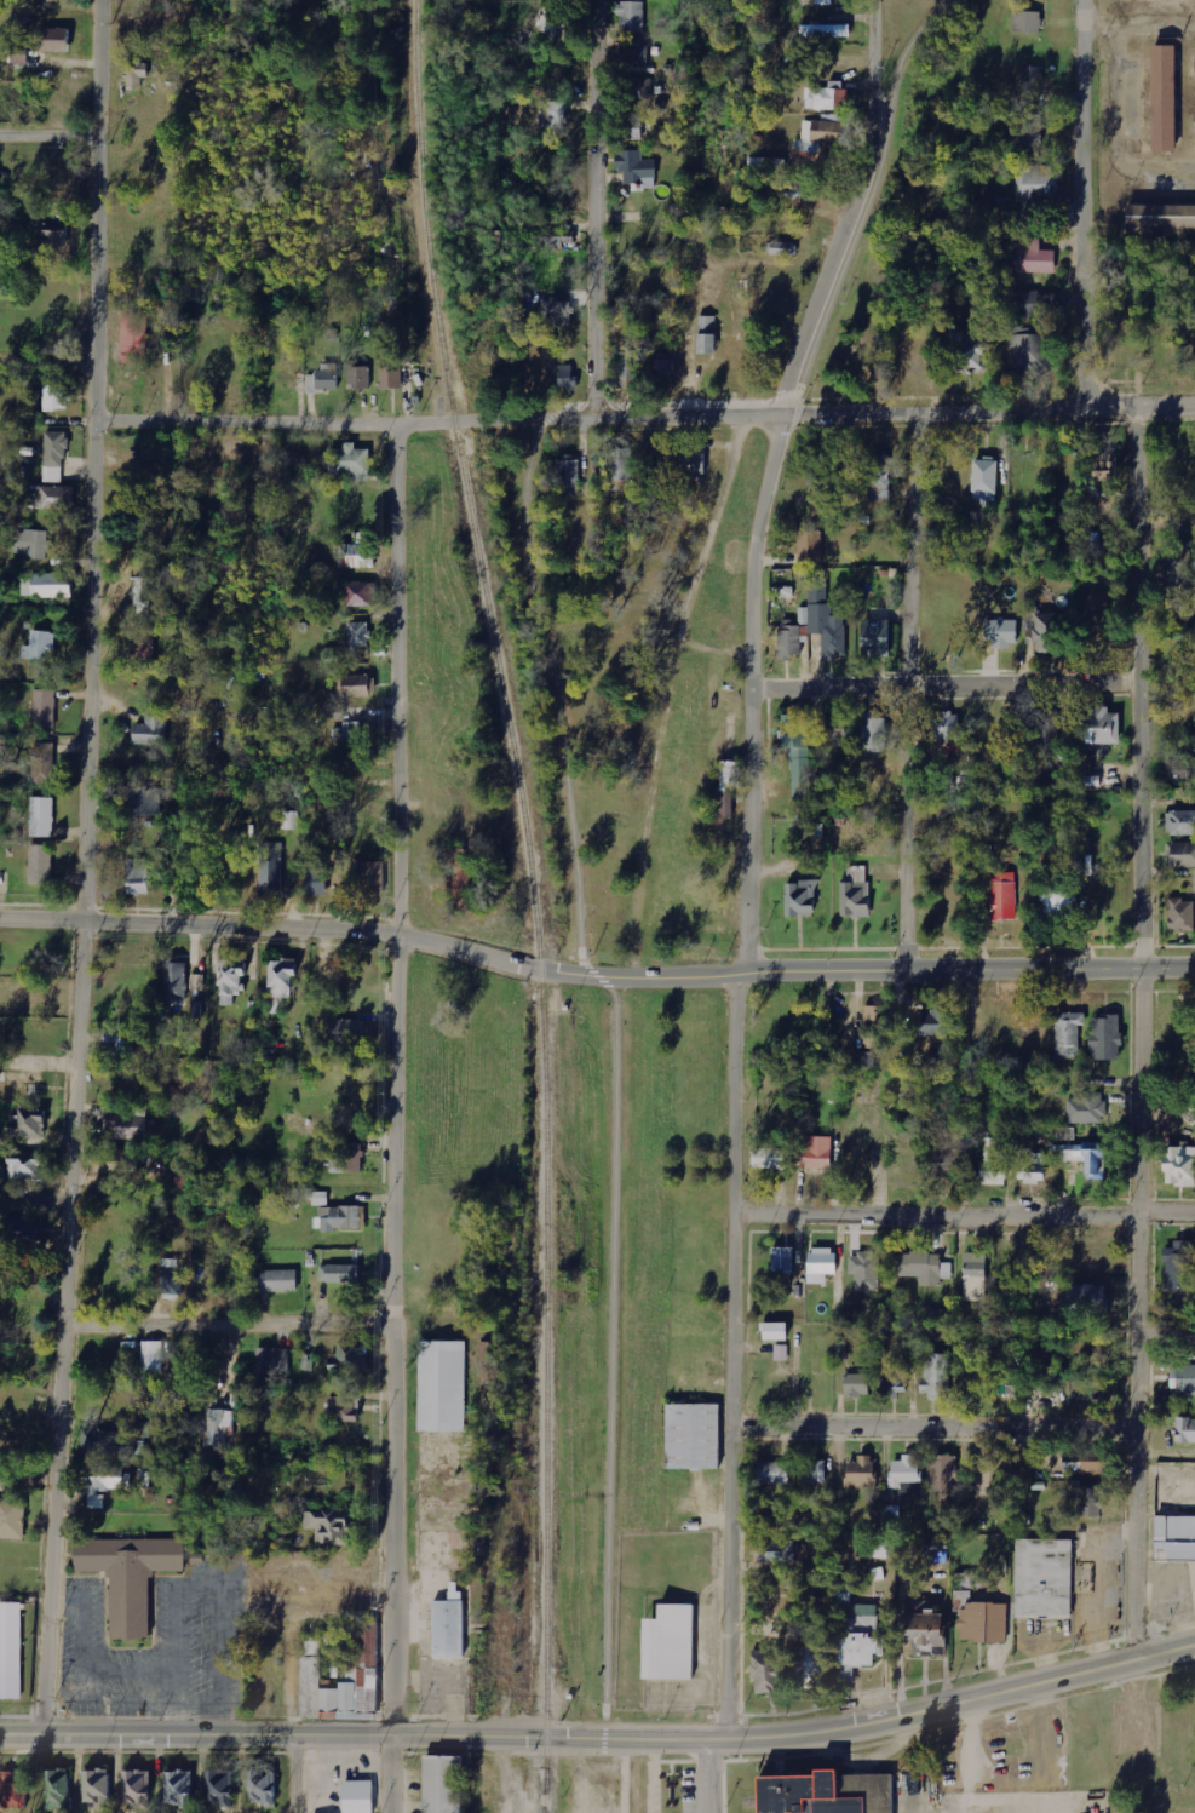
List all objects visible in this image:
building: (825, 2)
building: (632, 17)
building: (1025, 22)
road: (1154, 23)
building: (826, 30)
building: (52, 39)
road: (884, 42)
building: (633, 52)
building: (19, 54)
building: (1194, 70)
building: (137, 73)
building: (1030, 82)
building: (639, 88)
building: (831, 97)
building: (1162, 99)
building: (552, 116)
building: (1194, 125)
building: (631, 128)
building: (1032, 130)
road: (53, 131)
building: (817, 134)
road: (1114, 134)
building: (636, 168)
building: (1038, 183)
building: (803, 189)
road: (1082, 205)
road: (596, 207)
building: (1159, 218)
building: (53, 225)
building: (556, 237)
building: (52, 239)
building: (782, 248)
road: (837, 248)
building: (1033, 257)
building: (1034, 302)
building: (557, 312)
building: (705, 334)
building: (965, 352)
building: (1027, 352)
road: (56, 357)
building: (393, 366)
building: (626, 368)
building: (662, 371)
building: (567, 377)
building: (361, 378)
building: (323, 379)
building: (56, 397)
road: (653, 413)
building: (54, 457)
building: (350, 463)
building: (690, 463)
building: (621, 464)
building: (1102, 467)
building: (879, 475)
building: (568, 476)
building: (983, 480)
railway: (465, 487)
building: (57, 498)
building: (33, 543)
building: (811, 546)
building: (356, 556)
building: (48, 585)
building: (818, 590)
building: (361, 595)
building: (144, 596)
building: (827, 629)
building: (1049, 631)
building: (1000, 633)
building: (360, 635)
building: (874, 638)
building: (144, 642)
building: (789, 642)
building: (40, 646)
road: (946, 682)
building: (358, 684)
road: (912, 690)
building: (44, 708)
building: (334, 721)
building: (947, 727)
building: (1098, 727)
building: (151, 728)
building: (834, 730)
building: (873, 733)
building: (794, 740)
road: (562, 741)
building: (44, 763)
building: (726, 787)
building: (144, 802)
building: (42, 817)
building: (291, 820)
building: (1180, 822)
building: (1182, 854)
building: (983, 855)
building: (42, 864)
road: (99, 868)
building: (271, 868)
building: (1194, 872)
building: (317, 874)
building: (137, 876)
building: (372, 877)
building: (855, 894)
building: (1004, 896)
building: (1058, 897)
building: (799, 899)
building: (1182, 916)
road: (594, 976)
building: (174, 981)
building: (230, 981)
building: (280, 985)
building: (197, 991)
building: (931, 1023)
road: (1139, 1029)
building: (343, 1032)
building: (1068, 1034)
building: (1105, 1037)
building: (122, 1045)
road: (737, 1073)
road: (395, 1080)
building: (17, 1083)
building: (1087, 1108)
building: (30, 1123)
building: (130, 1123)
building: (814, 1152)
building: (771, 1158)
building: (349, 1159)
building: (994, 1160)
building: (25, 1166)
building: (1033, 1166)
building: (1179, 1166)
building: (105, 1167)
road: (38, 1193)
building: (321, 1199)
road: (964, 1215)
building: (340, 1217)
building: (24, 1228)
building: (782, 1258)
building: (821, 1264)
building: (925, 1267)
building: (866, 1270)
building: (975, 1272)
building: (340, 1273)
building: (171, 1276)
building: (278, 1280)
building: (1085, 1299)
building: (1179, 1310)
road: (232, 1318)
road: (1165, 1327)
building: (772, 1331)
building: (781, 1353)
building: (350, 1355)
building: (153, 1356)
building: (492, 1360)
building: (272, 1361)
building: (937, 1376)
building: (896, 1378)
building: (1183, 1378)
building: (1010, 1383)
building: (857, 1384)
building: (437, 1388)
railway: (544, 1392)
building: (343, 1406)
building: (222, 1427)
road: (932, 1429)
building: (1185, 1432)
building: (689, 1438)
building: (1081, 1467)
road: (28, 1468)
building: (812, 1471)
building: (861, 1471)
building: (774, 1473)
building: (989, 1473)
building: (906, 1474)
building: (944, 1478)
building: (103, 1482)
building: (1085, 1501)
building: (12, 1519)
building: (328, 1526)
building: (1174, 1536)
building: (875, 1548)
building: (782, 1550)
building: (126, 1572)
building: (1040, 1580)
building: (964, 1599)
building: (978, 1623)
building: (444, 1630)
building: (921, 1630)
building: (852, 1635)
building: (666, 1646)
building: (8, 1652)
building: (360, 1665)
building: (808, 1666)
building: (765, 1671)
road: (603, 1740)
road: (292, 1775)
road: (390, 1775)
road: (604, 1777)
road: (700, 1777)
building: (438, 1785)
building: (260, 1786)
building: (98, 1788)
building: (179, 1788)
building: (219, 1788)
building: (137, 1789)
building: (13, 1790)
building: (58, 1790)
building: (822, 1794)
building: (354, 1796)

